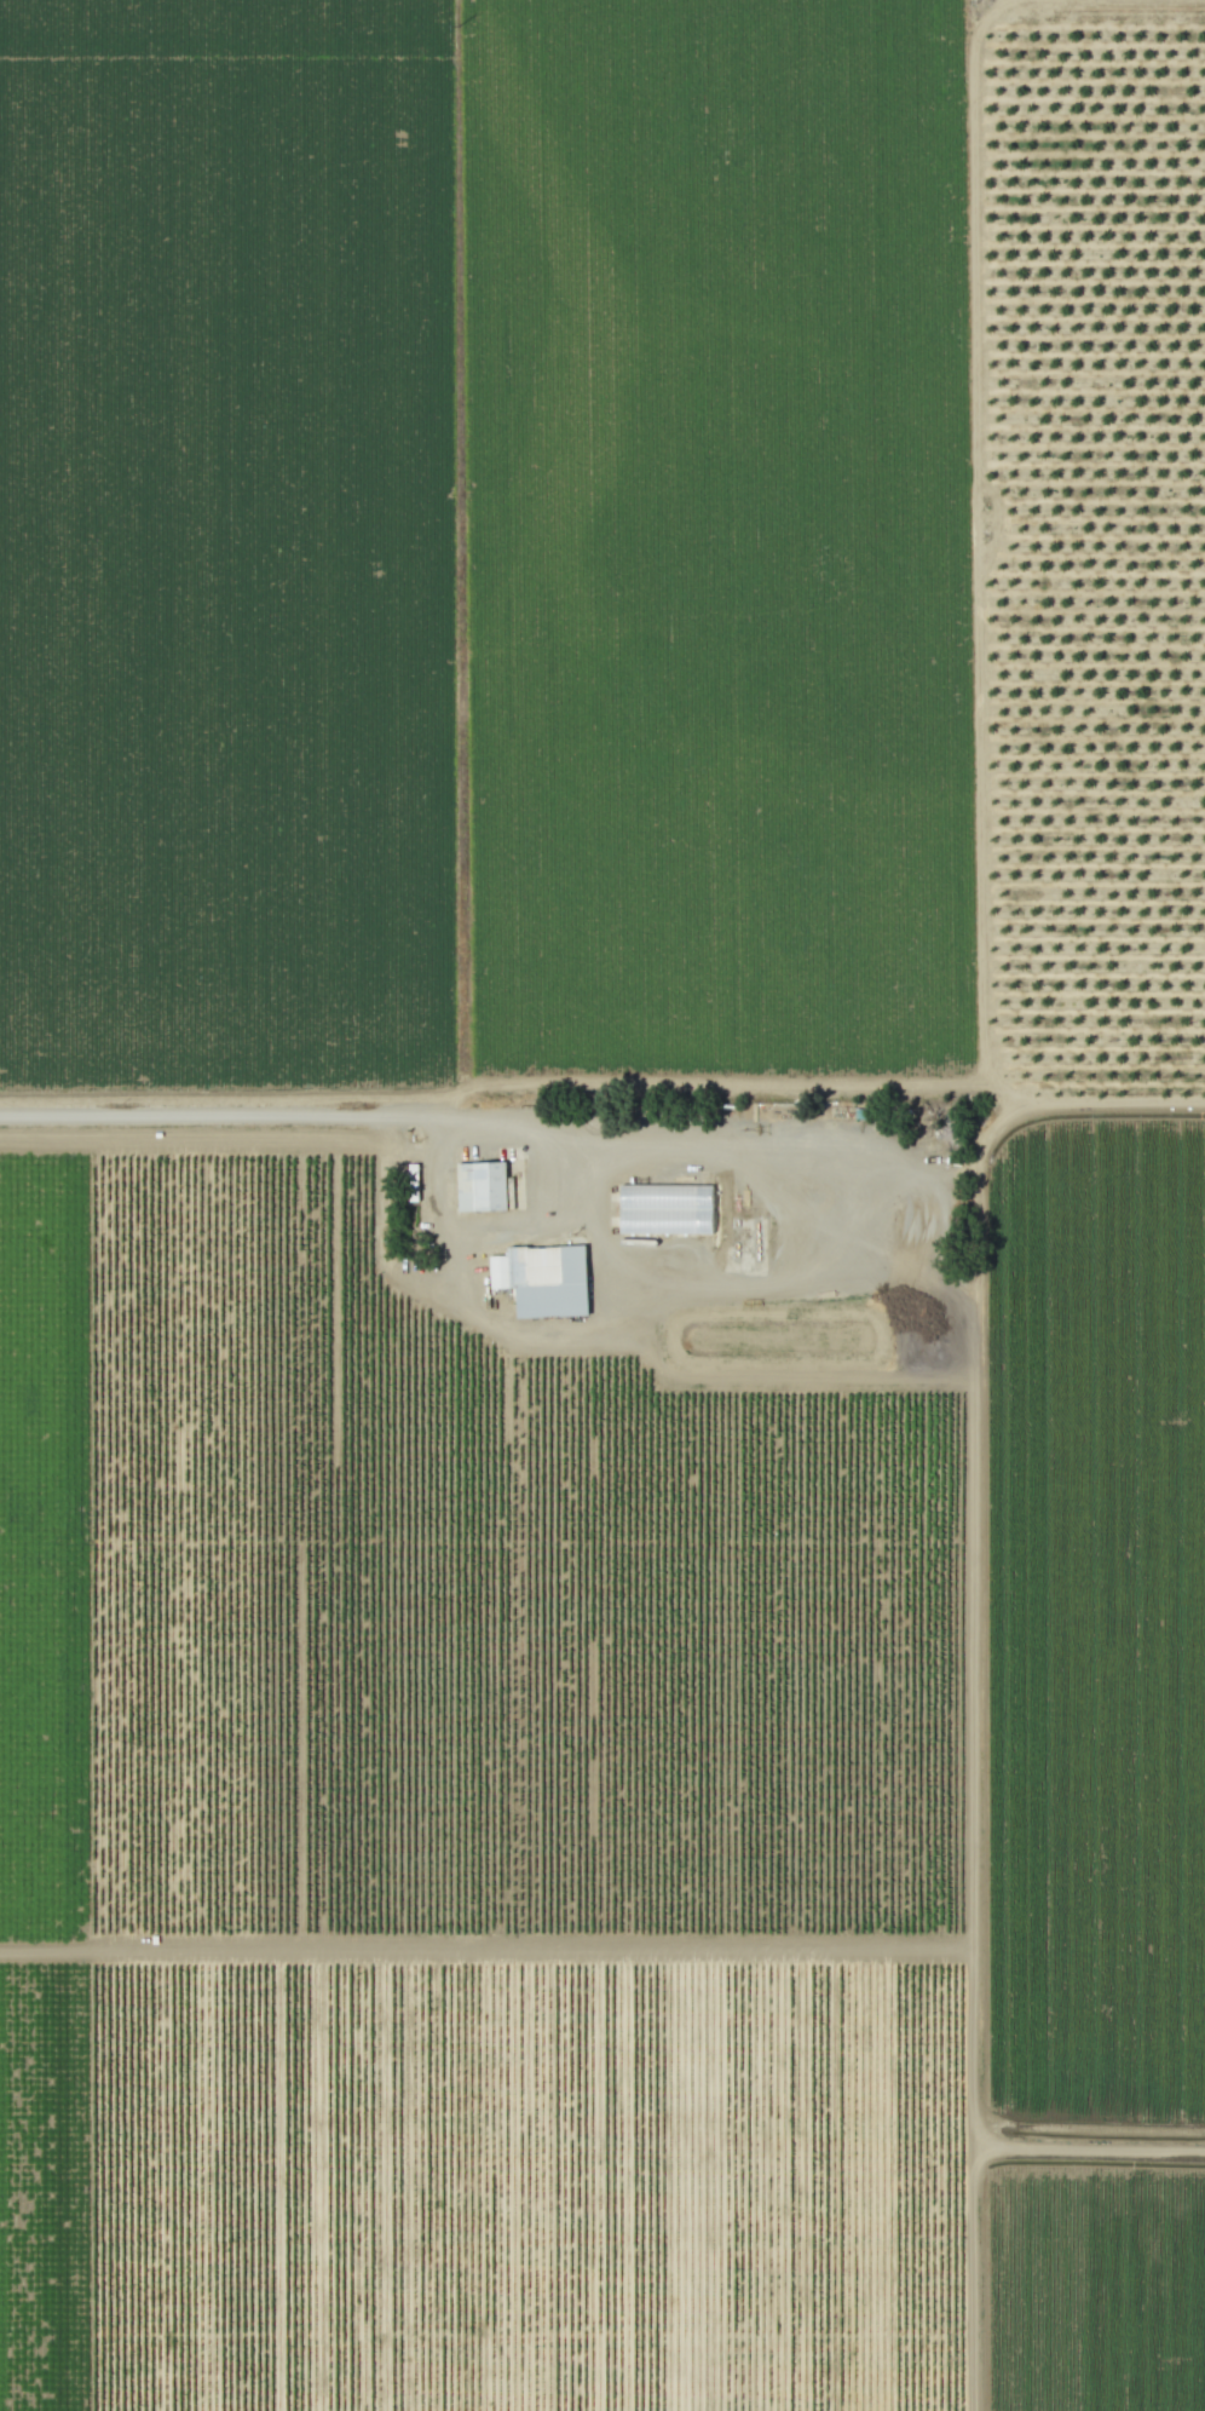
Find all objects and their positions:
road: (811, 1086)
road: (221, 1117)
building: (480, 1186)
road: (537, 1222)
road: (604, 1258)
road: (821, 1276)
building: (544, 1279)
road: (970, 1773)

